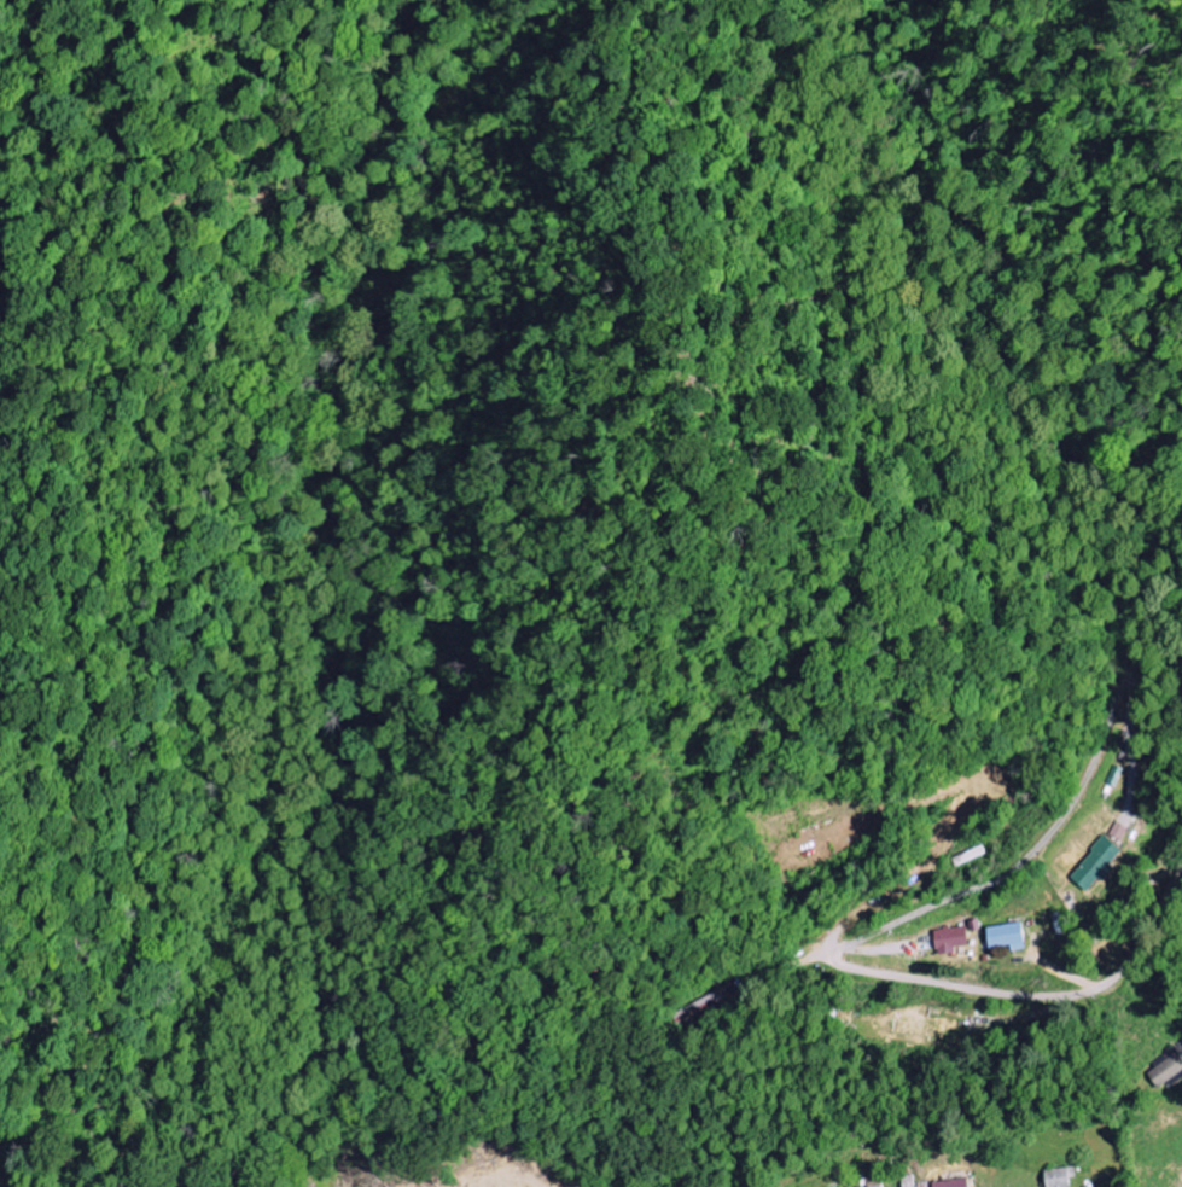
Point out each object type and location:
building: (1119, 832)
building: (1099, 865)
building: (1008, 937)
building: (951, 941)
building: (708, 1008)
building: (1176, 1048)
building: (1166, 1071)
building: (1059, 1176)
building: (953, 1183)

